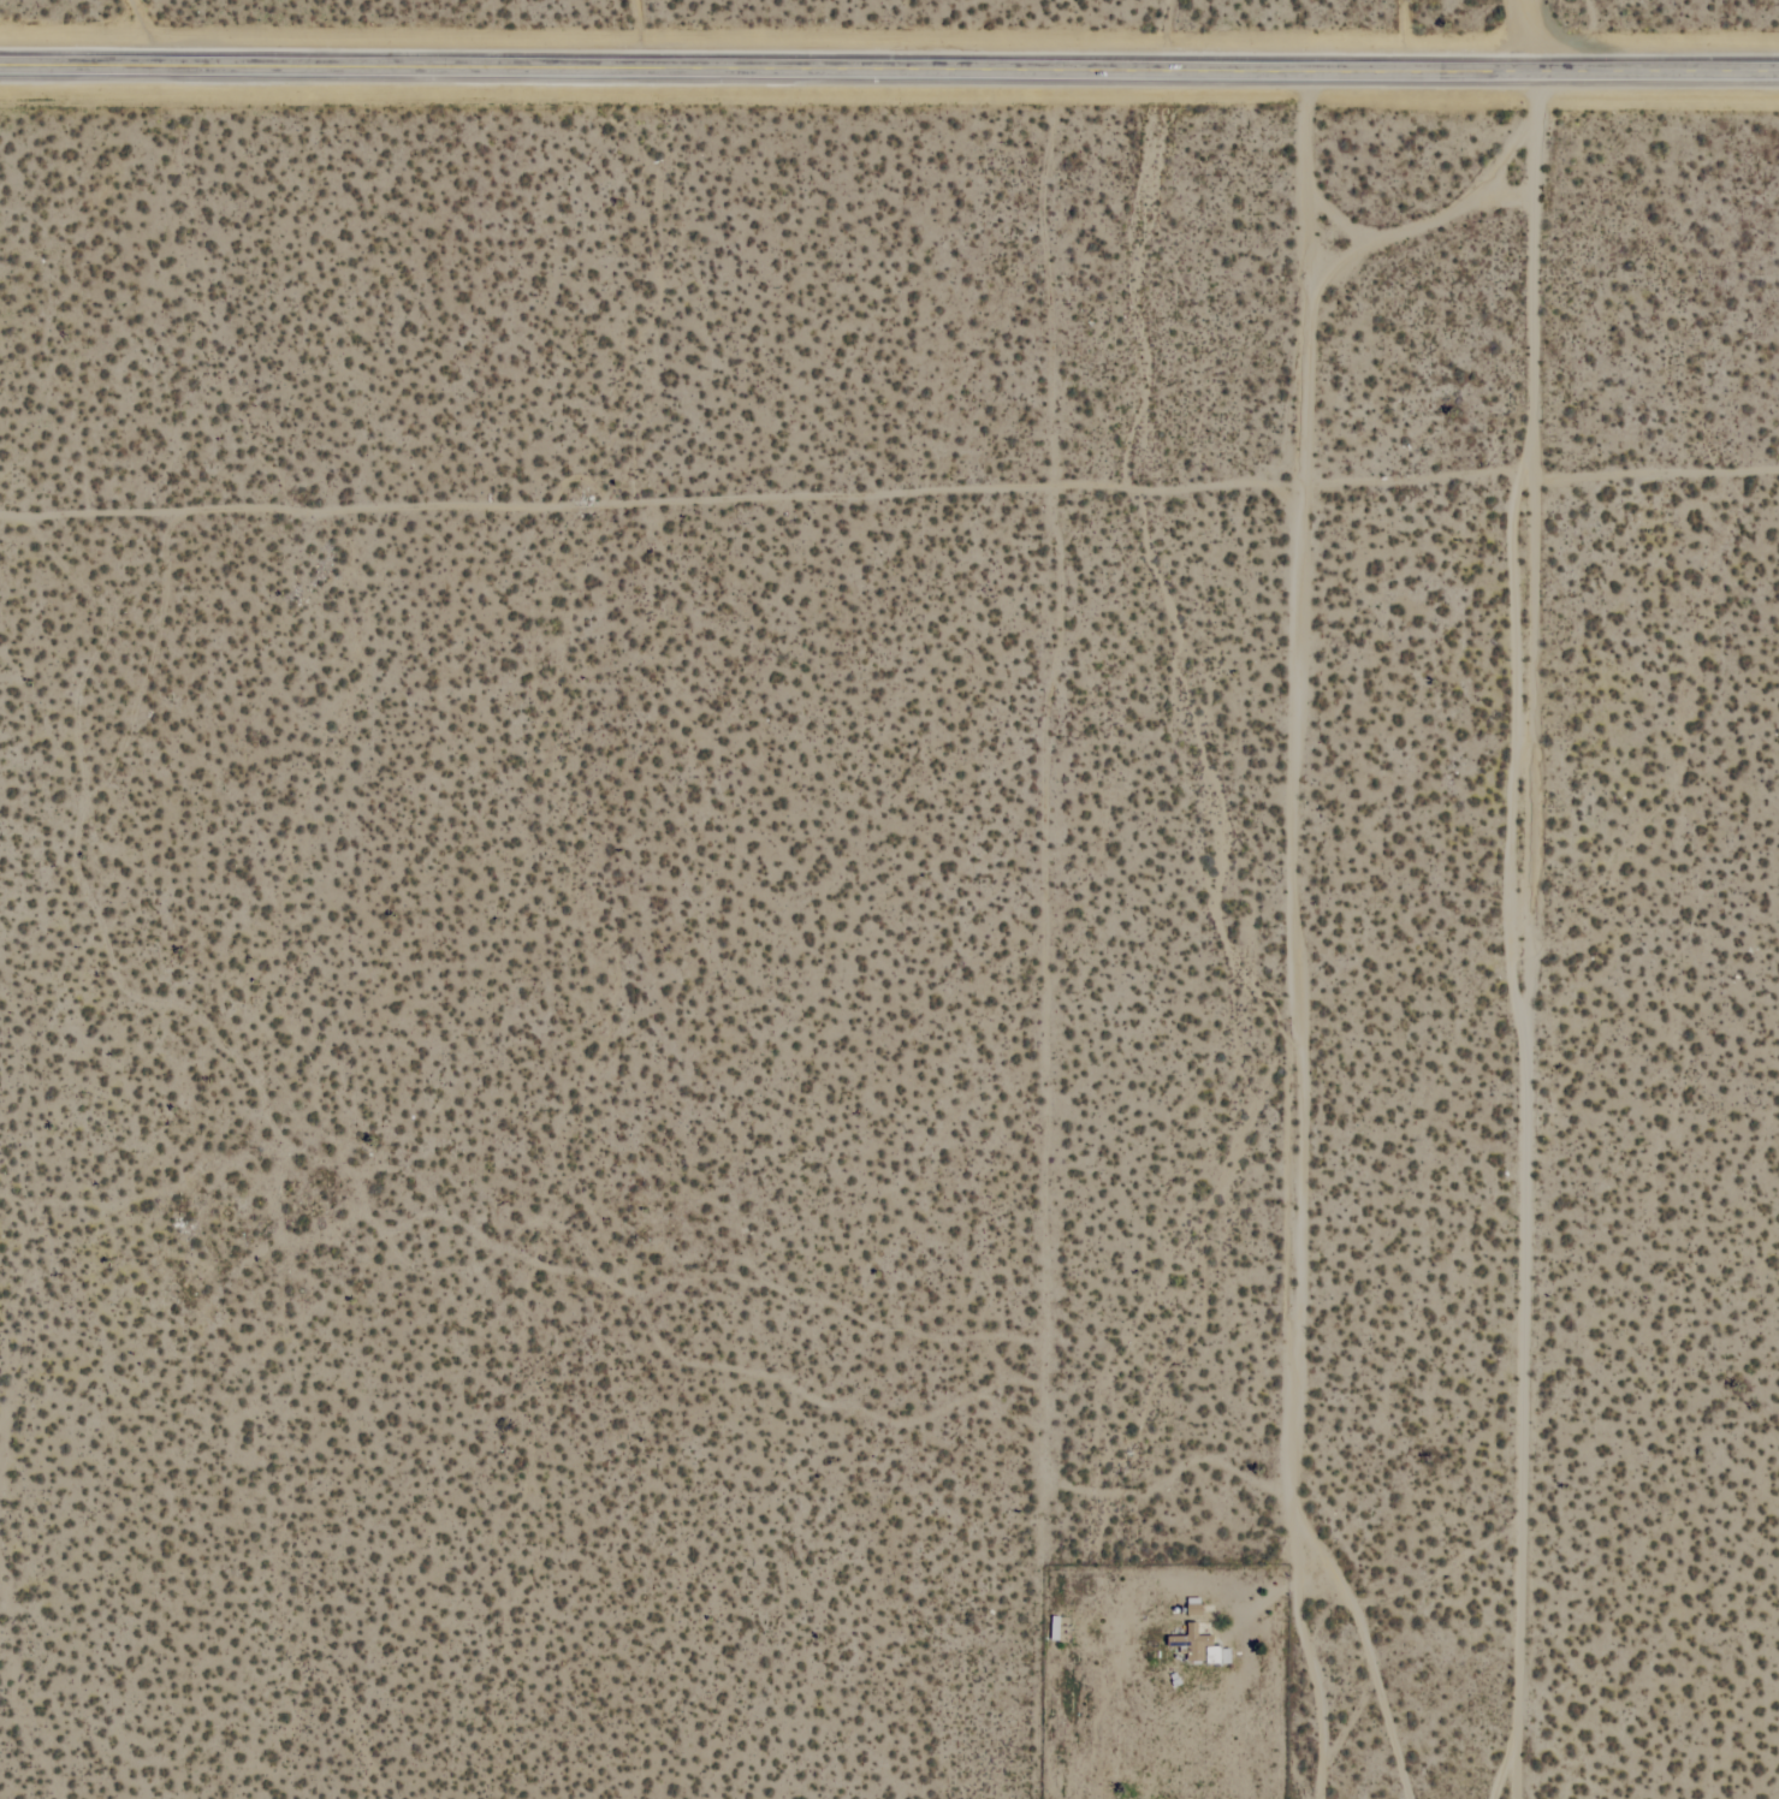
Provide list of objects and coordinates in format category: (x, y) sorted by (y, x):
road: (1531, 34)
road: (889, 66)
road: (1529, 933)
road: (1259, 1592)
road: (1318, 1694)

